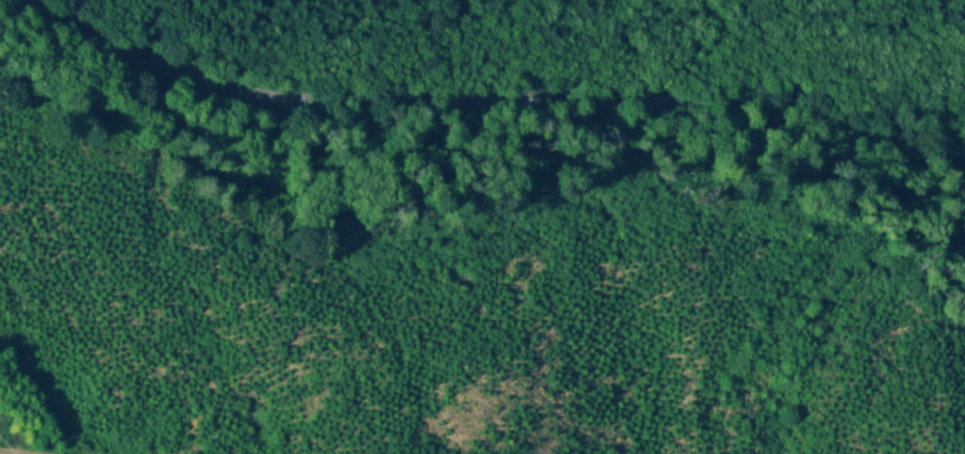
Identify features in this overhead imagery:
road: (478, 100)

